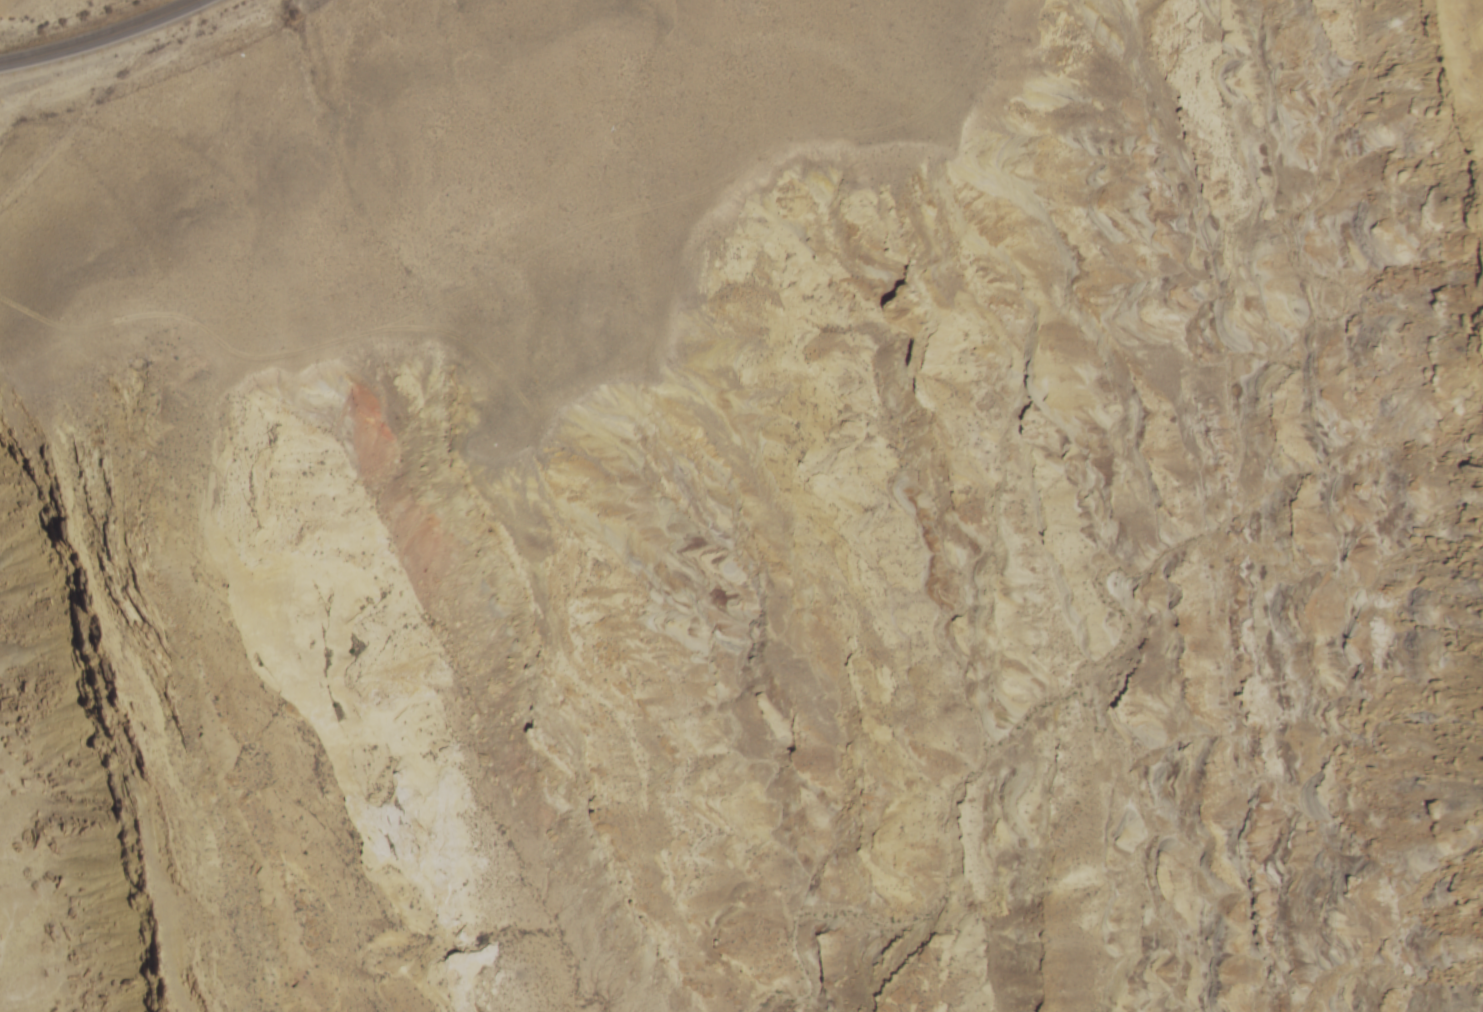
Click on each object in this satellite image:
road: (113, 39)
road: (271, 97)

